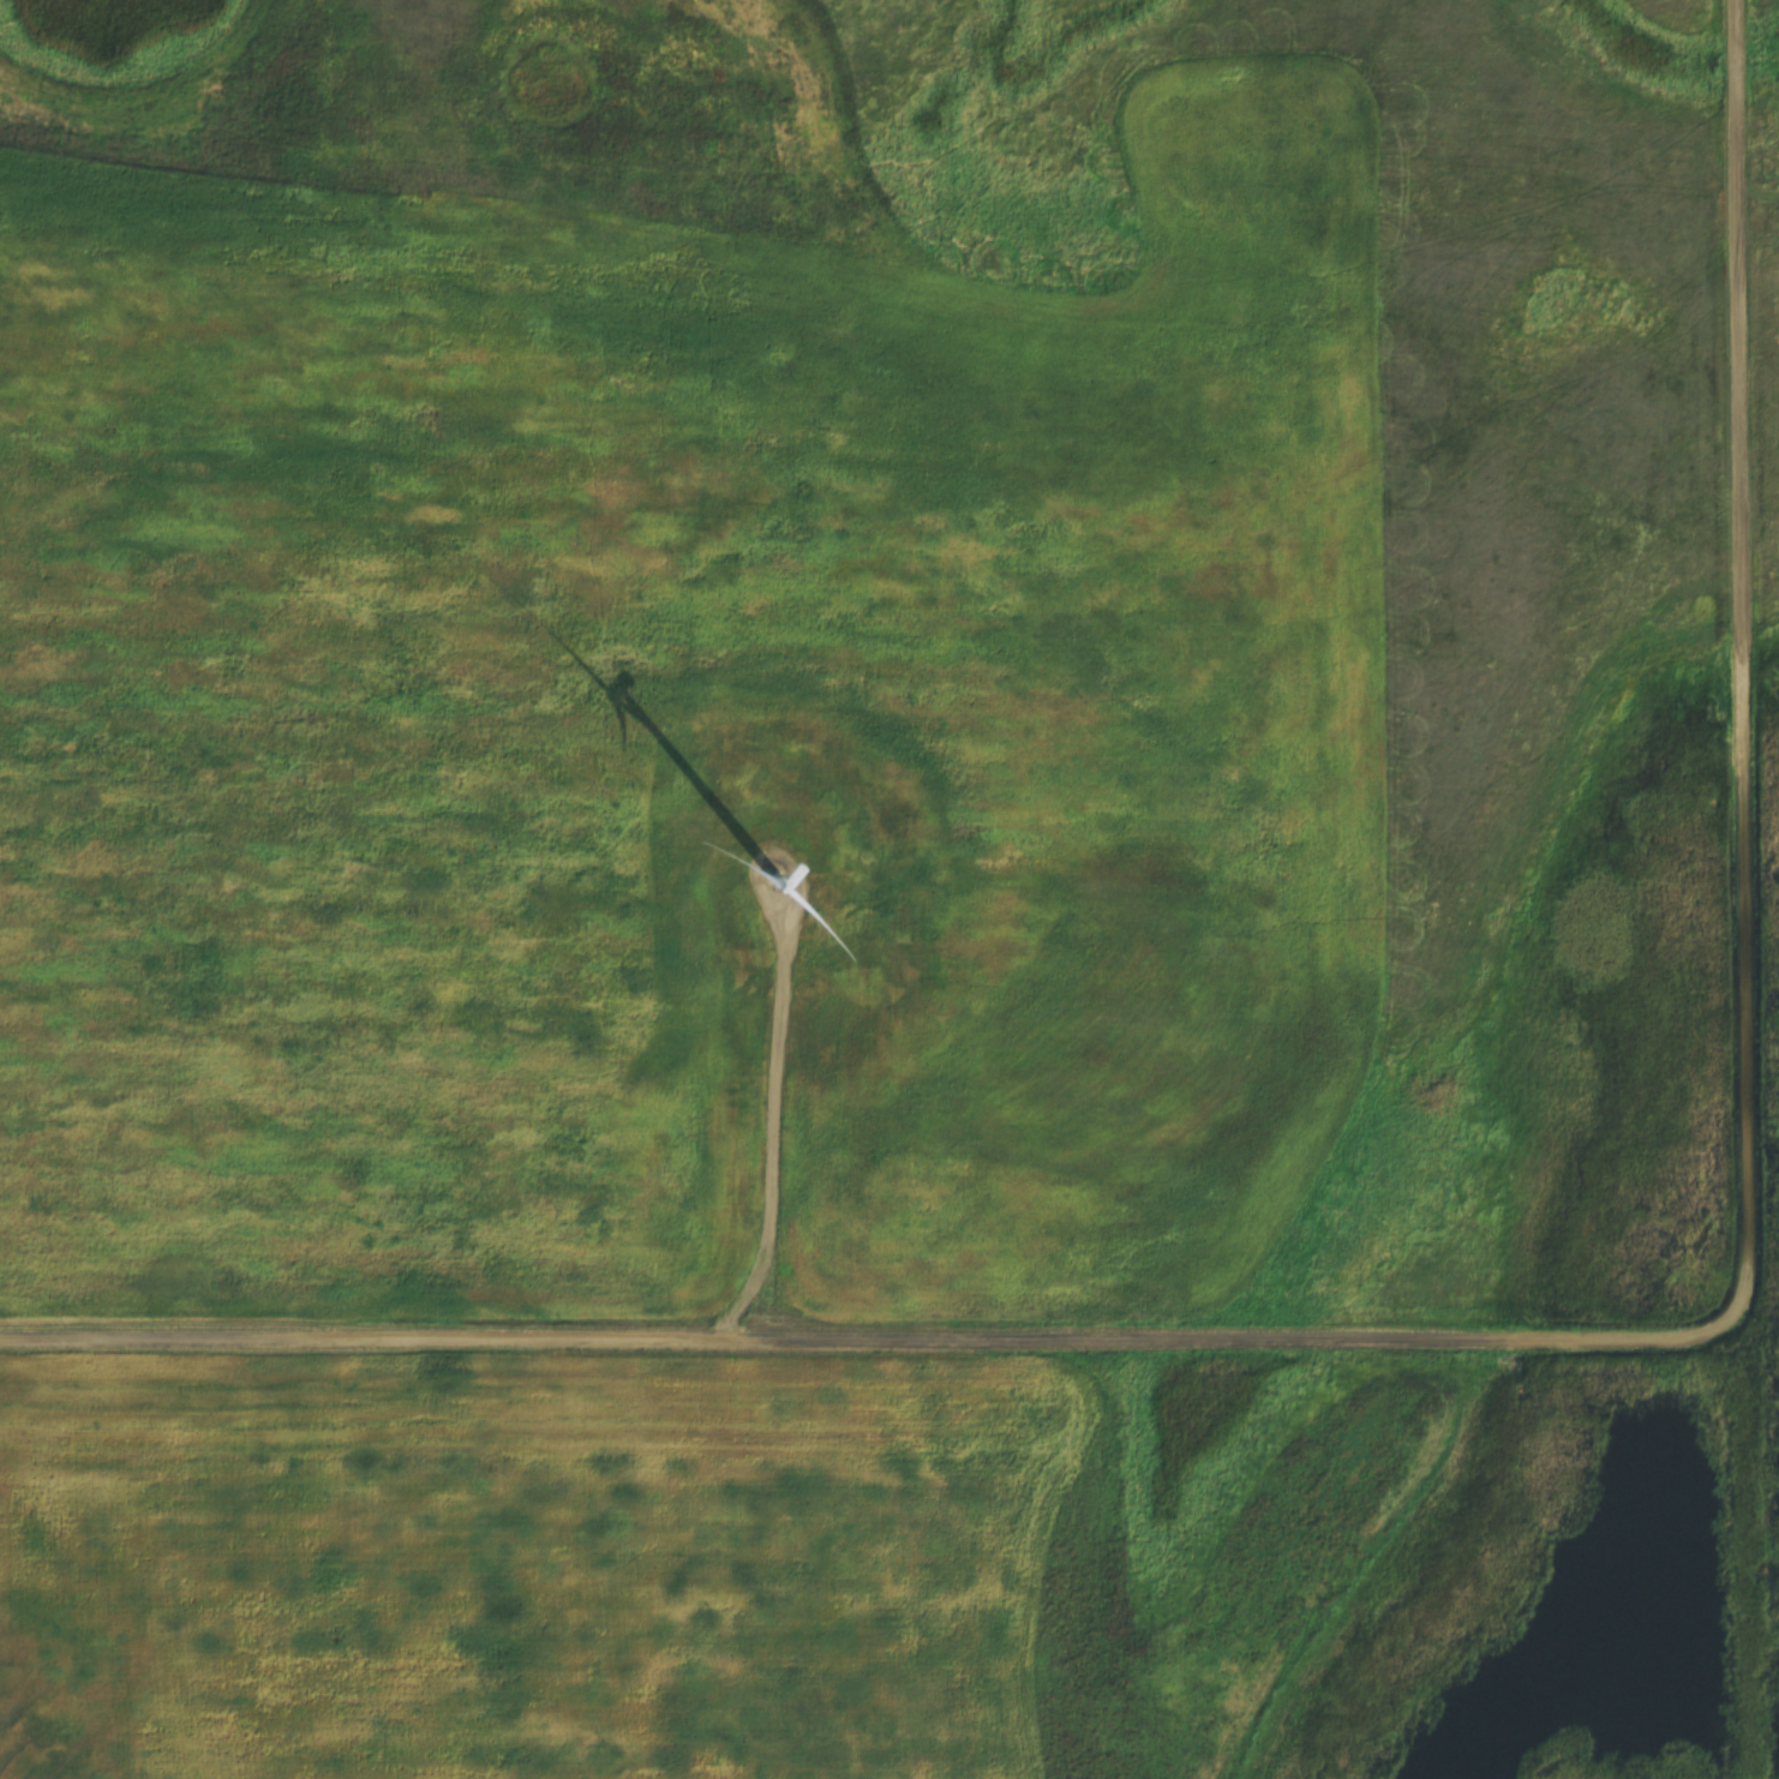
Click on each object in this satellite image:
road: (1735, 660)
wind turbine: (771, 885)
road: (868, 1330)

